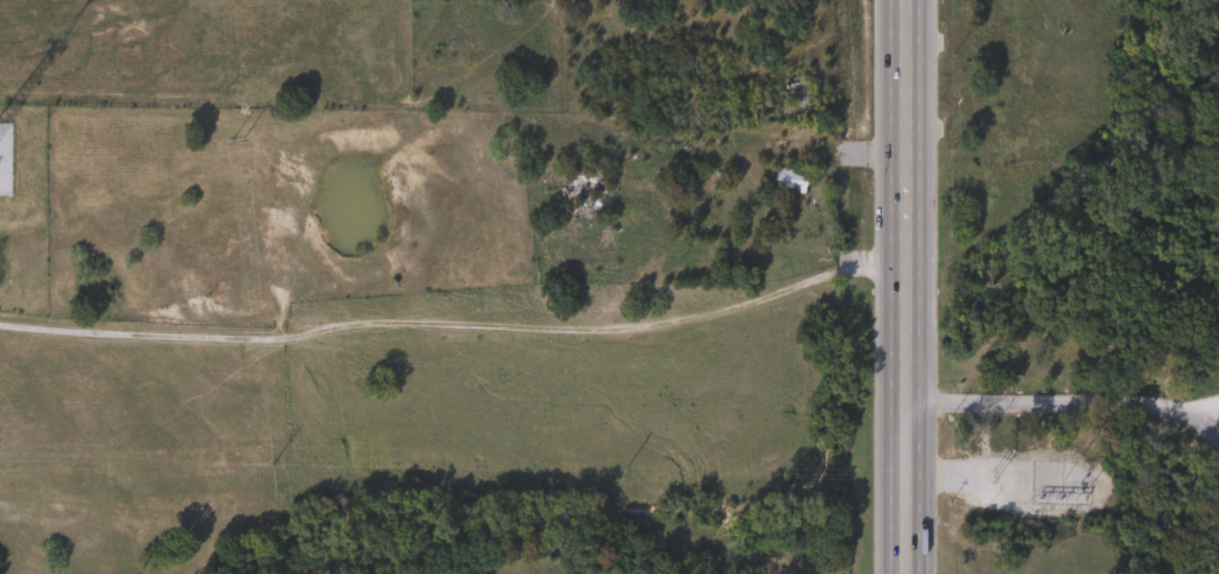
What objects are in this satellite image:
building: (791, 95)
power tower: (237, 141)
building: (785, 180)
building: (591, 181)
road: (902, 286)
road: (454, 324)
road: (1066, 405)
road: (1201, 407)
power tower: (273, 466)

